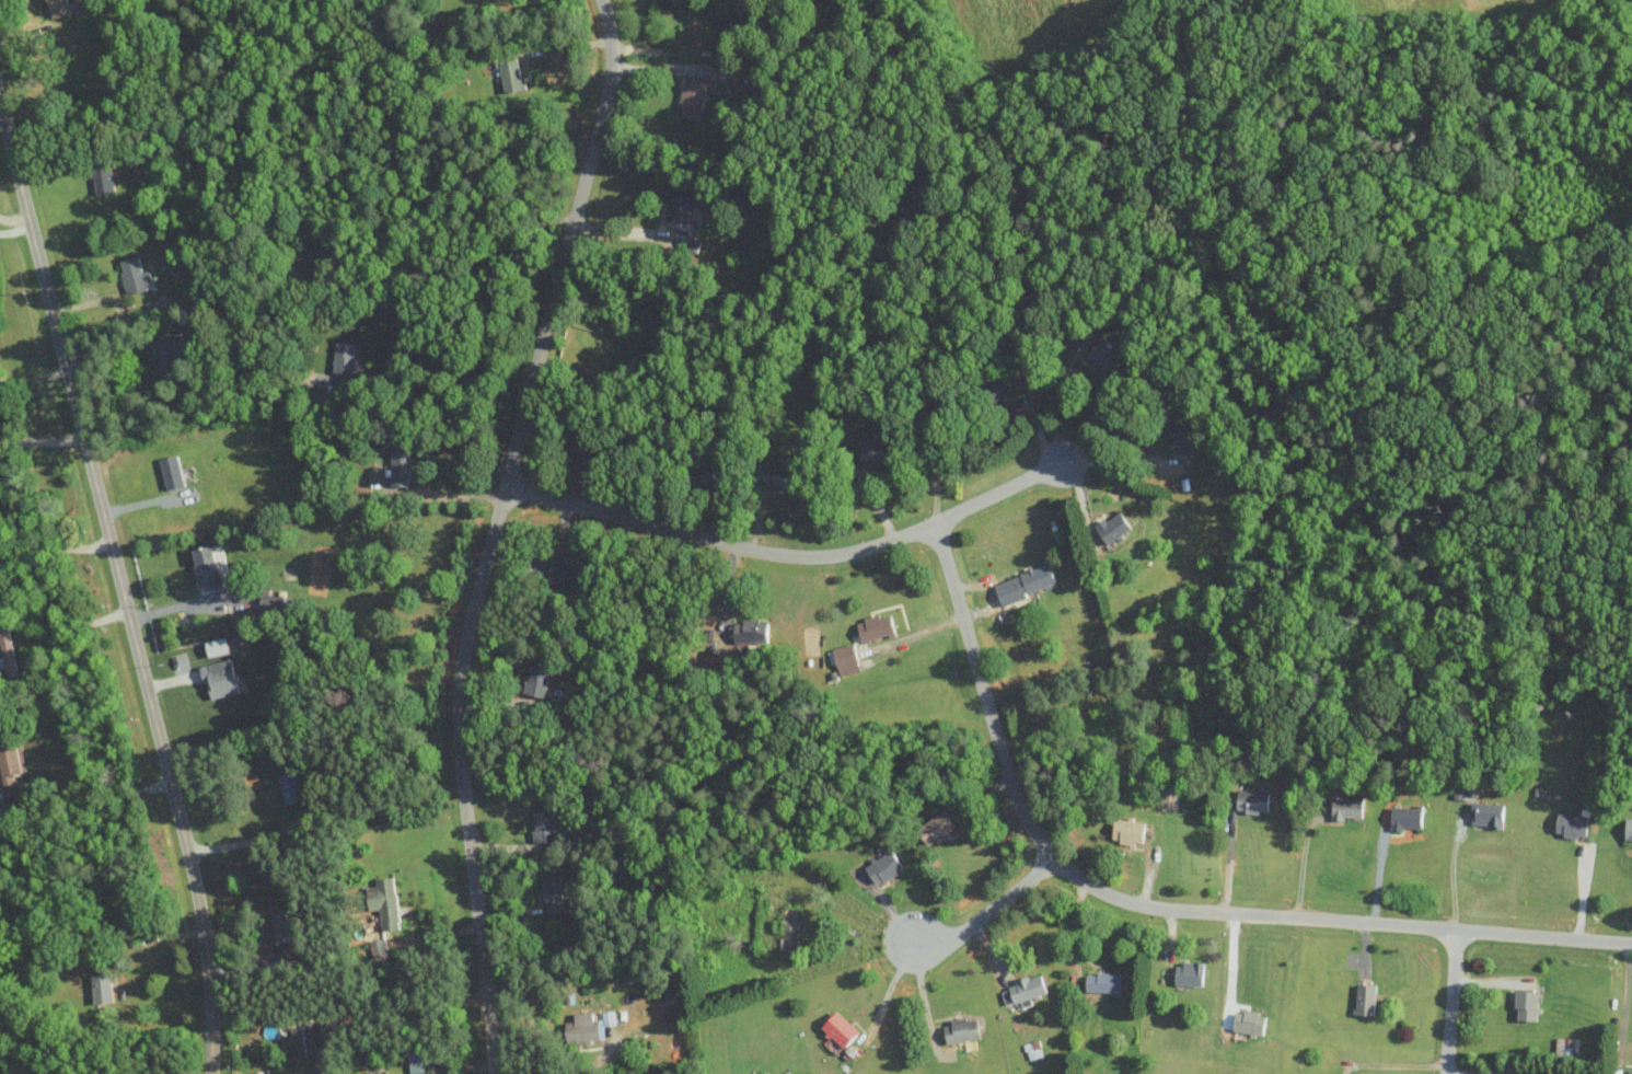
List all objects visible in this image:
building: (60, 7)
building: (510, 74)
building: (692, 99)
building: (102, 180)
building: (679, 207)
road: (13, 217)
road: (15, 229)
road: (626, 234)
road: (461, 273)
building: (134, 276)
building: (169, 353)
building: (343, 357)
building: (1104, 357)
road: (439, 371)
road: (935, 378)
road: (34, 379)
building: (999, 386)
road: (1061, 407)
building: (1184, 437)
road: (42, 440)
building: (875, 451)
road: (1120, 458)
building: (400, 467)
building: (171, 471)
building: (706, 475)
road: (447, 497)
building: (1112, 526)
road: (495, 531)
road: (55, 547)
road: (791, 556)
building: (208, 566)
building: (564, 573)
building: (1025, 582)
road: (121, 585)
road: (187, 604)
building: (873, 626)
road: (62, 630)
building: (749, 631)
building: (7, 651)
building: (843, 658)
building: (218, 677)
building: (535, 679)
building: (8, 764)
building: (290, 786)
building: (0, 794)
building: (1169, 796)
road: (84, 798)
building: (1252, 800)
building: (1346, 807)
building: (1486, 813)
building: (1405, 817)
building: (1571, 823)
building: (543, 824)
building: (936, 828)
building: (1629, 829)
building: (1127, 830)
road: (270, 832)
road: (1228, 859)
road: (1300, 864)
building: (882, 866)
road: (1378, 871)
road: (1454, 875)
road: (1582, 892)
building: (551, 893)
building: (383, 901)
road: (1157, 909)
road: (987, 913)
building: (280, 926)
building: (1189, 973)
building: (1102, 982)
building: (101, 986)
building: (1023, 988)
road: (889, 992)
road: (1628, 995)
building: (1365, 997)
road: (1452, 1002)
building: (1527, 1004)
road: (405, 1007)
building: (634, 1012)
building: (607, 1017)
building: (1248, 1021)
building: (583, 1028)
building: (838, 1028)
building: (961, 1029)
building: (303, 1038)
road: (593, 1061)
building: (415, 1066)
building: (1630, 1071)

